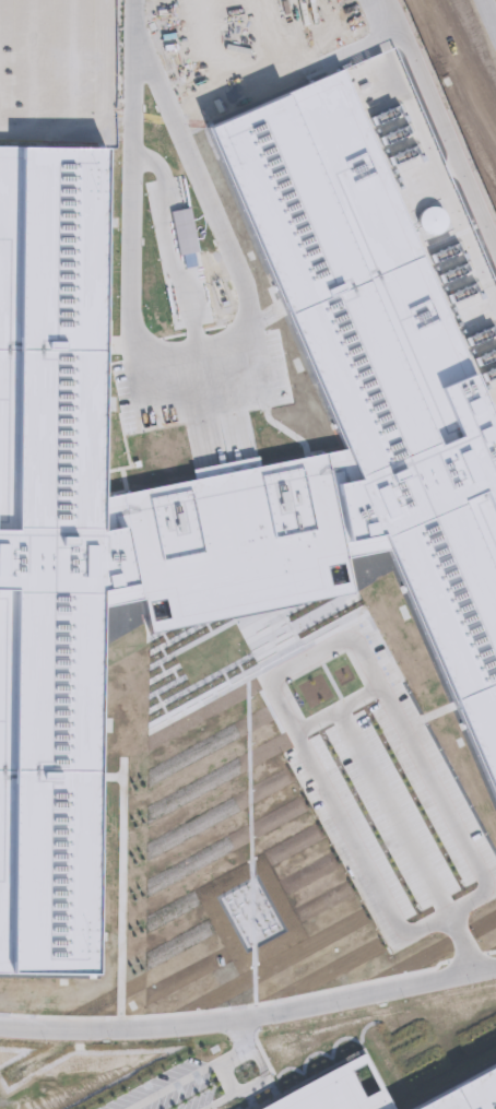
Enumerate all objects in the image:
road: (488, 15)
road: (137, 23)
road: (461, 67)
road: (188, 356)
building: (222, 476)
road: (249, 1017)
road: (238, 1052)
building: (318, 1086)
road: (172, 1088)
building: (465, 1093)

